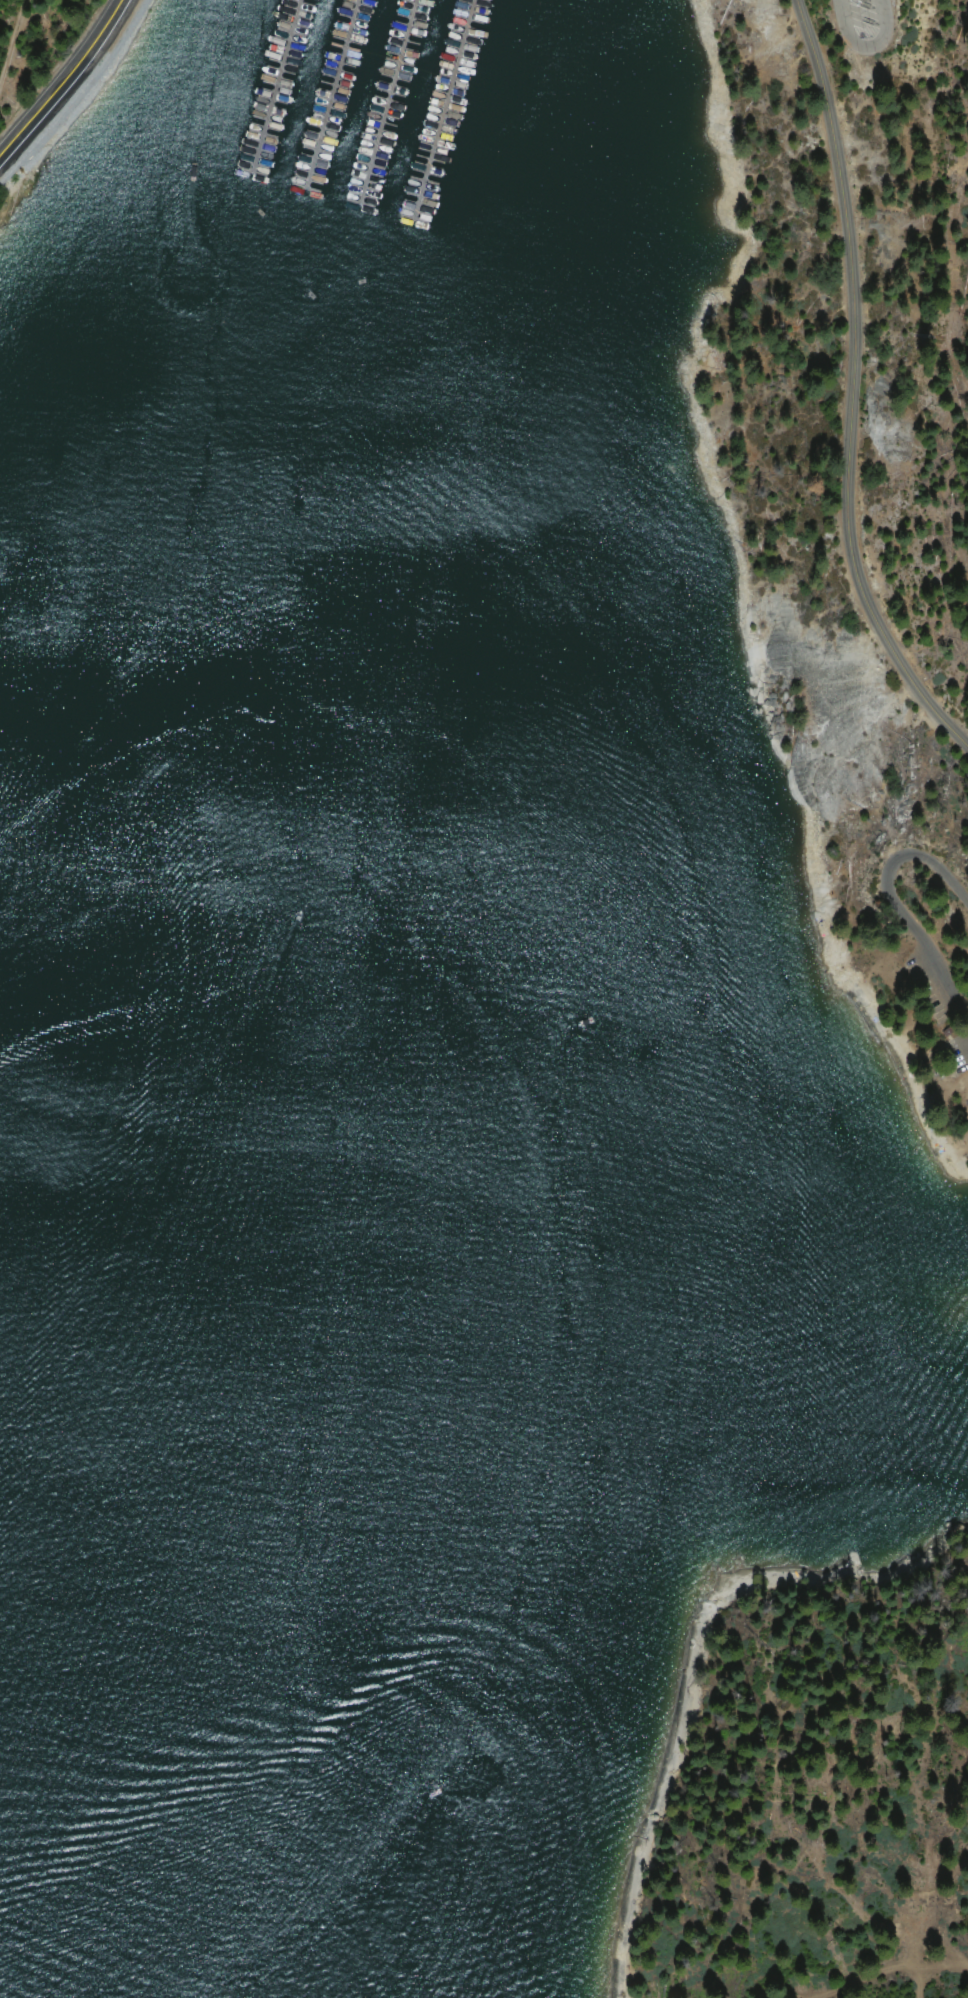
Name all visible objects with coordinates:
parking lot: (862, 13)
road: (9, 35)
road: (865, 47)
road: (56, 72)
pier: (267, 90)
pier: (322, 98)
pier: (378, 105)
pier: (434, 111)
road: (844, 393)

